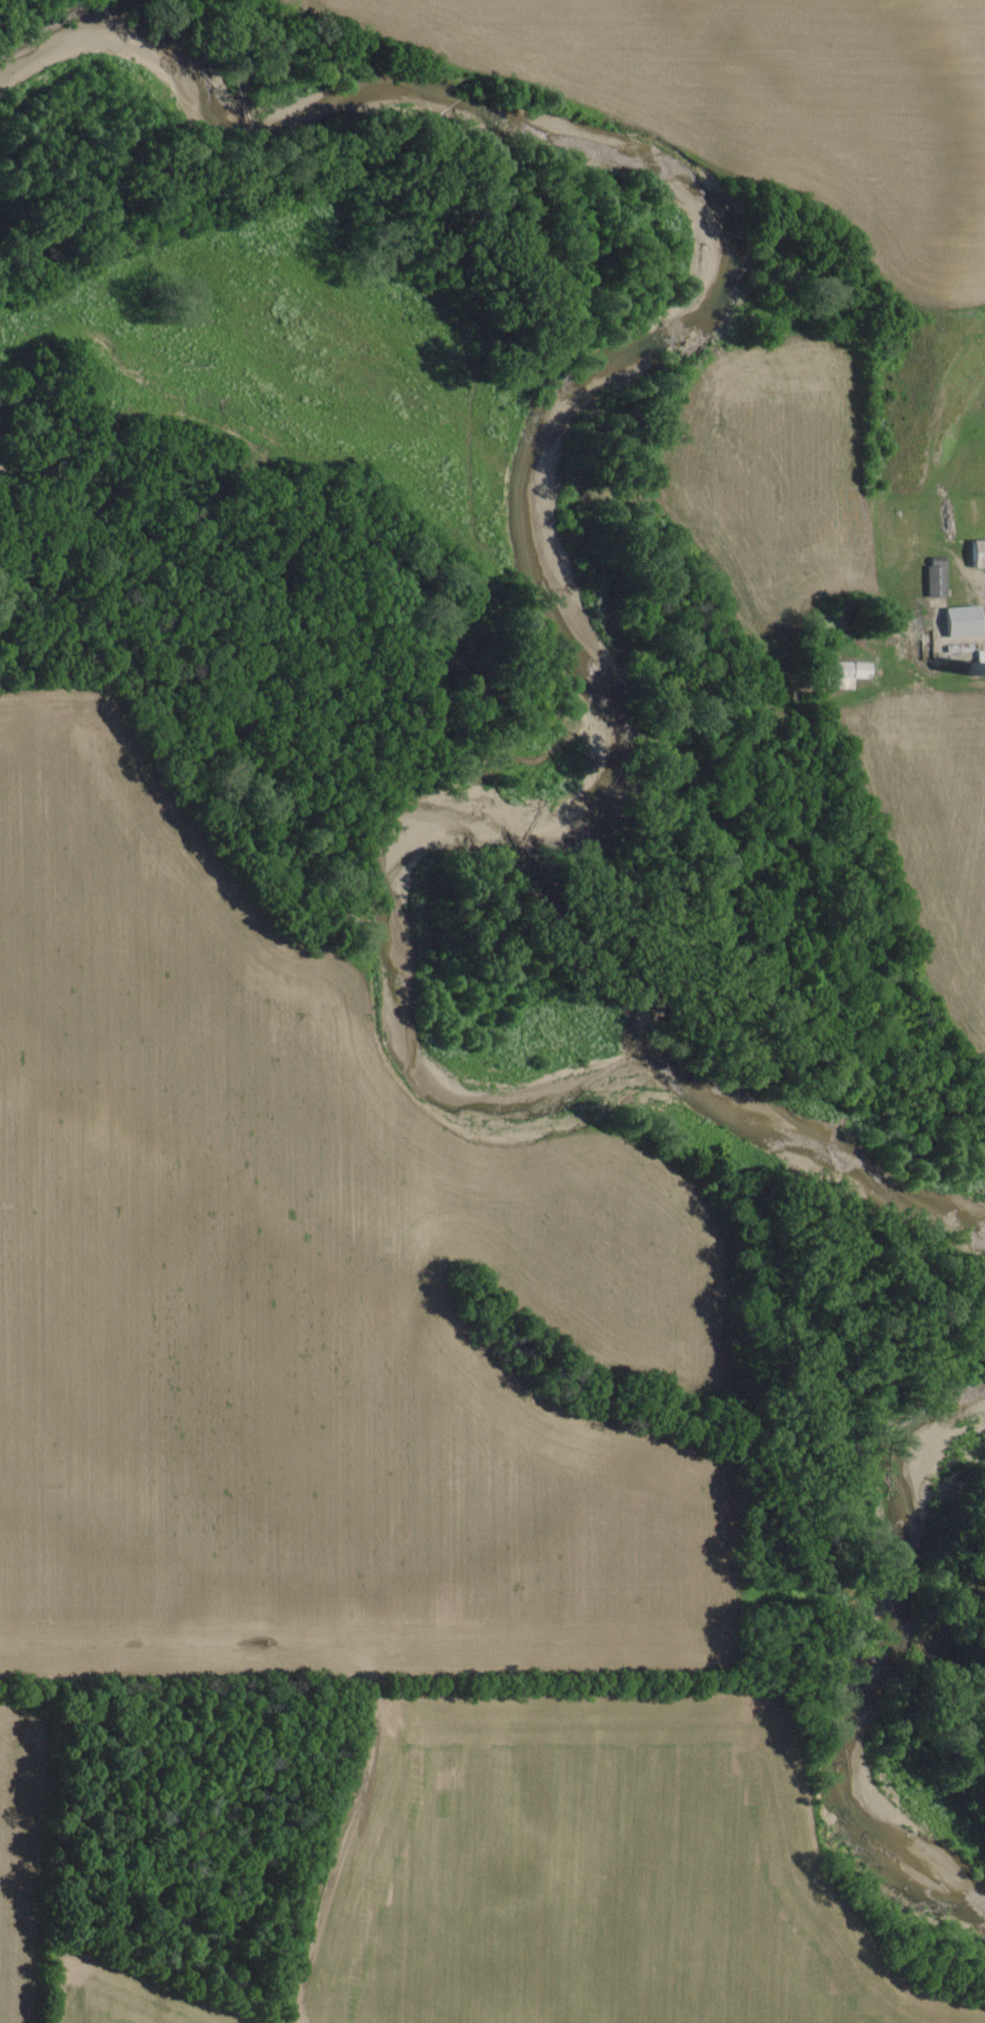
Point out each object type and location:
building: (977, 554)
road: (963, 567)
building: (934, 579)
building: (956, 617)
building: (841, 674)

